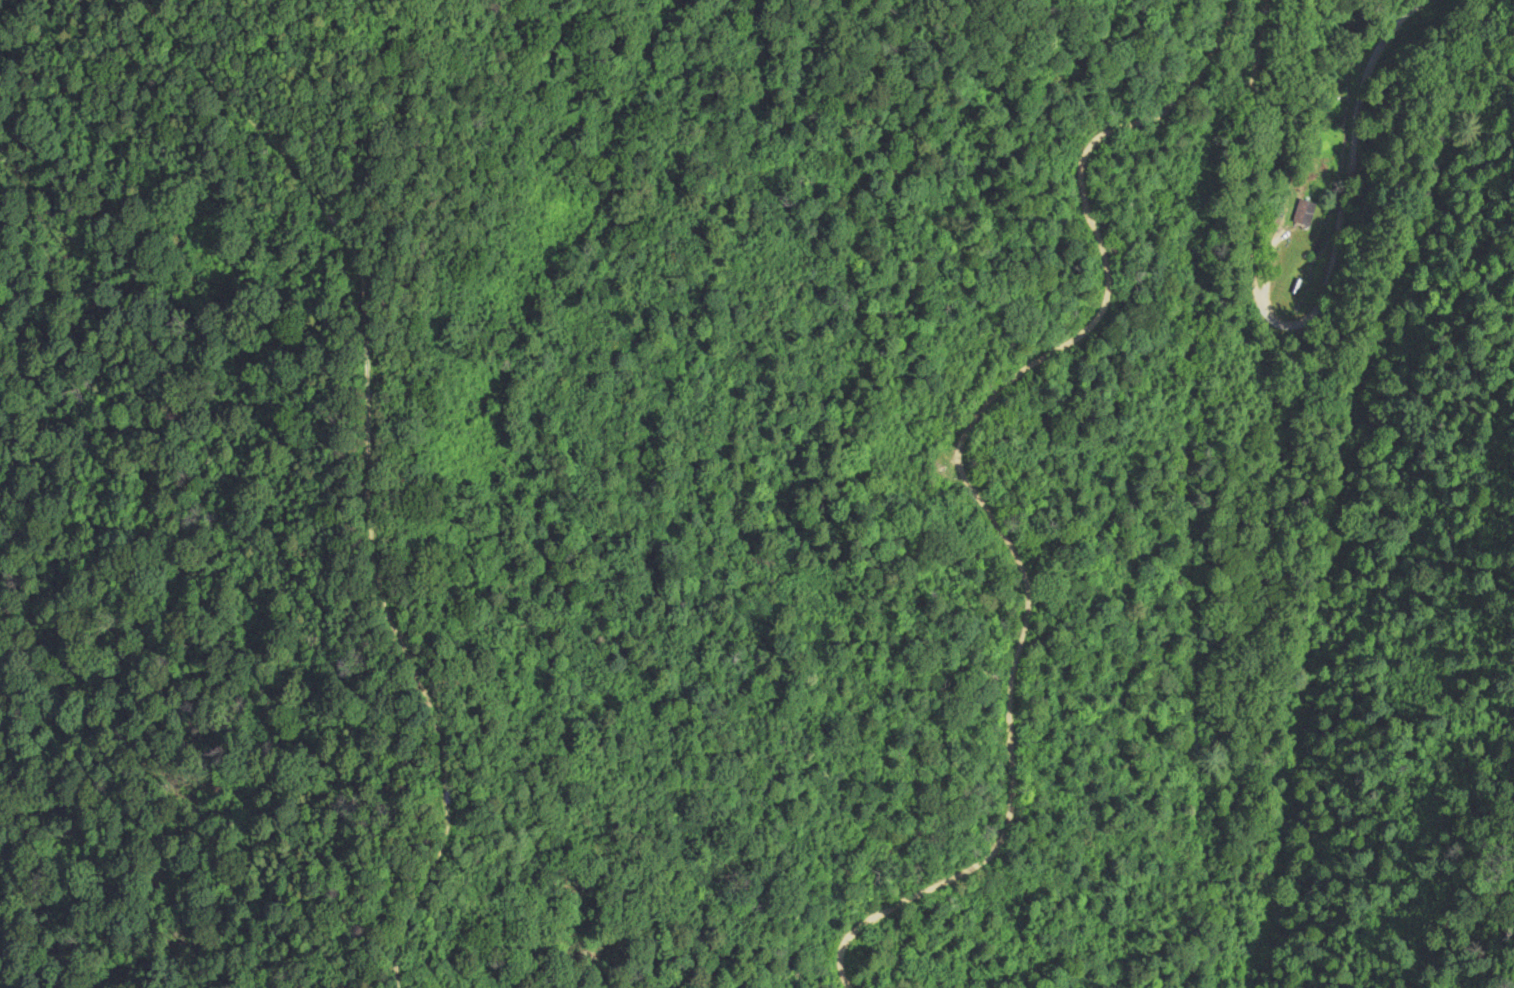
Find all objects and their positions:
road: (1370, 179)
building: (1303, 212)

